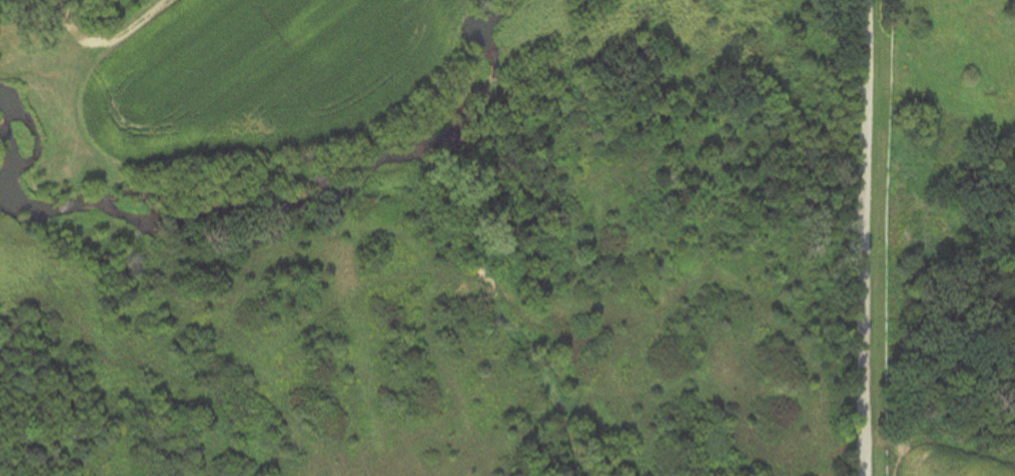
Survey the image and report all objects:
road: (866, 237)

